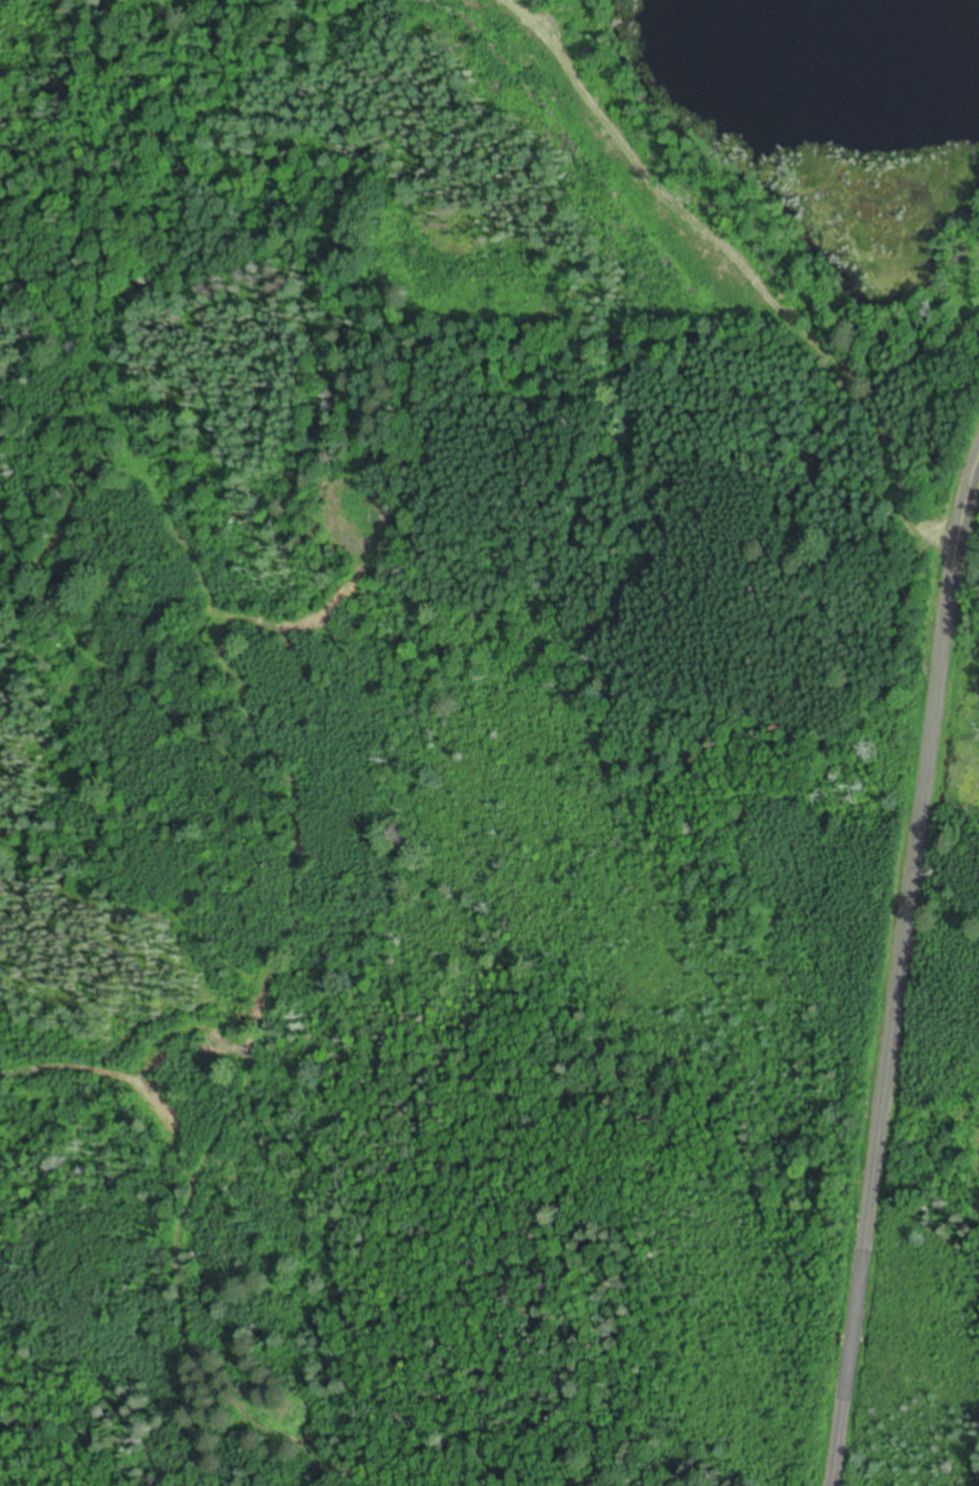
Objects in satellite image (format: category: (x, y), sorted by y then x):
road: (897, 968)

